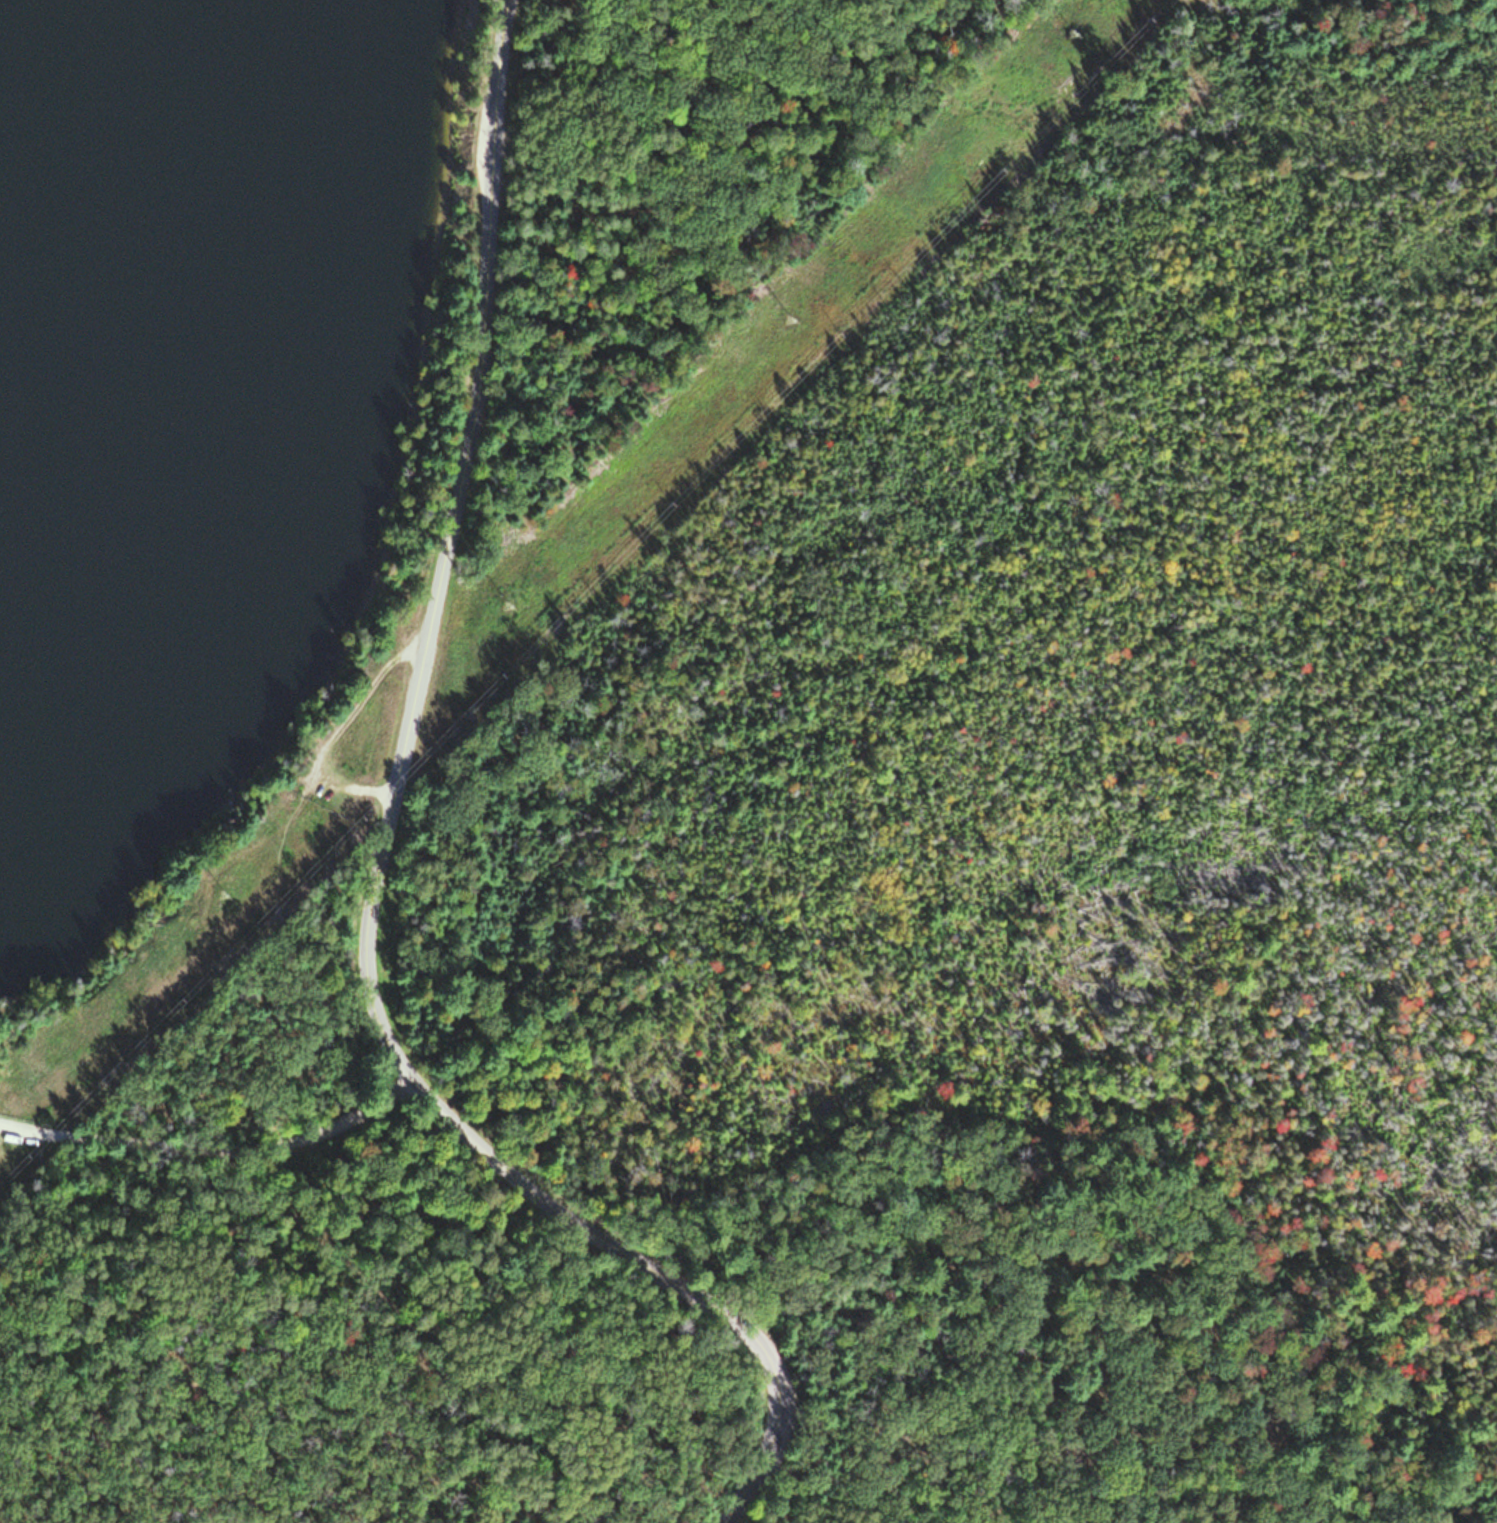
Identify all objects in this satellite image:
river: (3, 4)
power tower: (1053, 31)
power tower: (782, 316)
power tower: (497, 604)
road: (961, 631)
road: (1290, 759)
road: (381, 859)
power tower: (210, 890)
road: (909, 994)
road: (261, 1095)
road: (214, 1148)
road: (1078, 1404)

